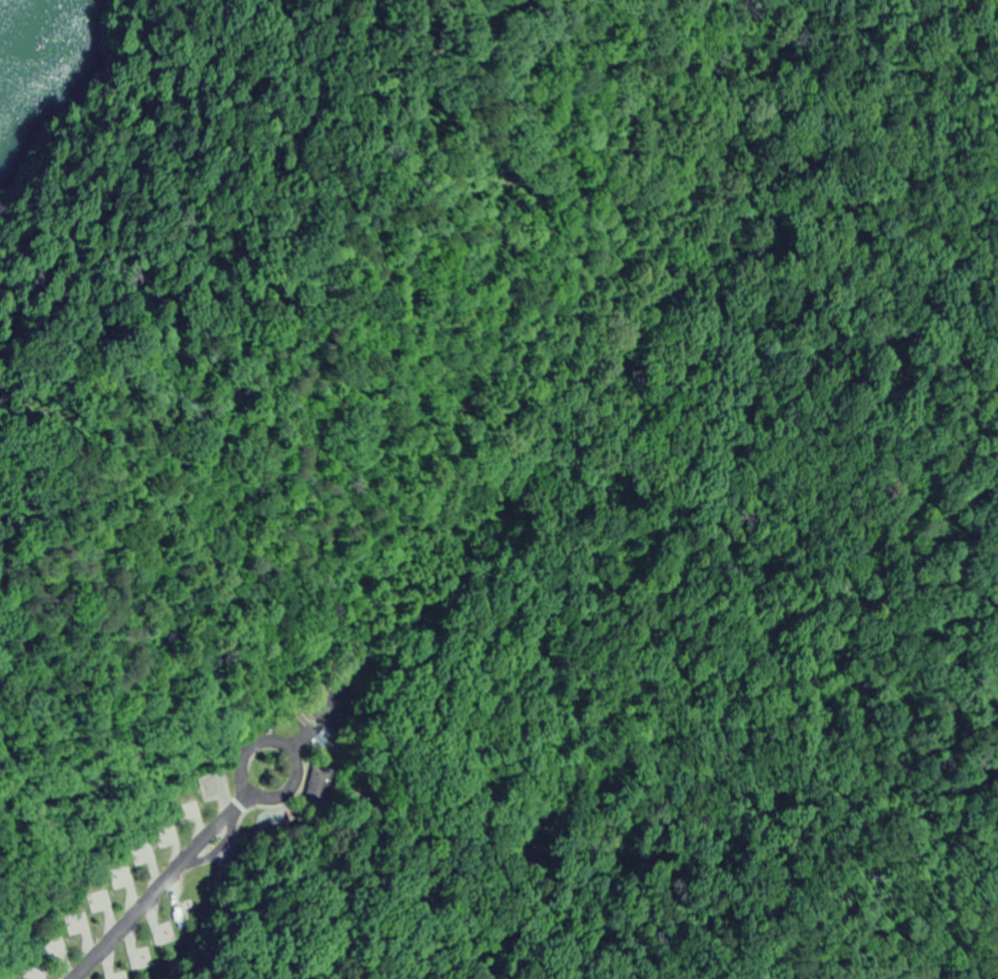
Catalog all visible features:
park: (487, 543)
road: (289, 748)
building: (224, 784)
building: (323, 786)
building: (149, 854)
road: (167, 888)
building: (83, 923)
building: (60, 948)
building: (41, 974)

